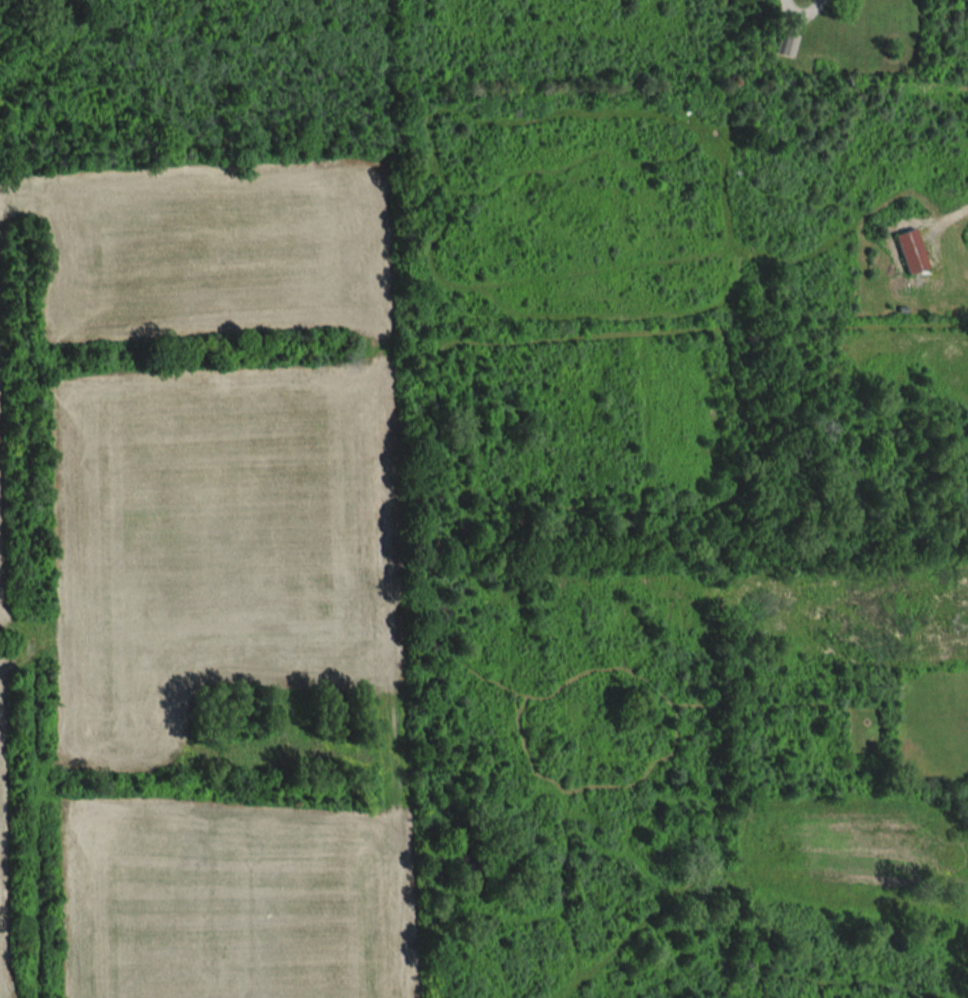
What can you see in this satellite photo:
road: (802, 13)
building: (789, 45)
building: (910, 251)
crop: (4, 493)
crop: (225, 571)
crop: (5, 847)

